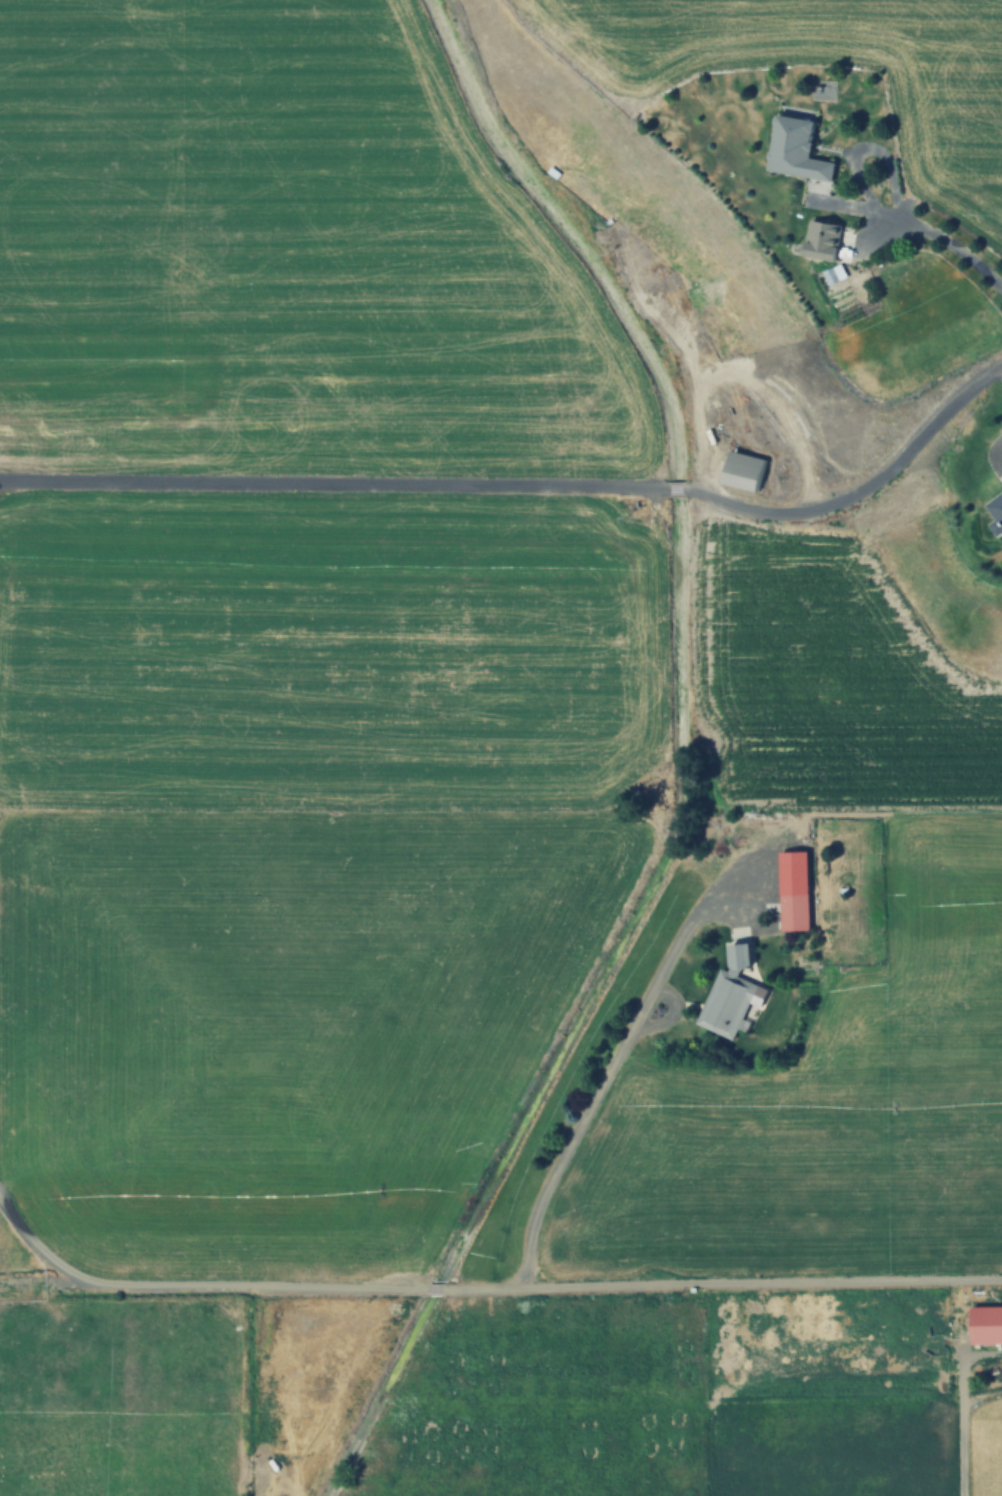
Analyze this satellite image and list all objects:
road: (529, 486)
road: (501, 1286)

